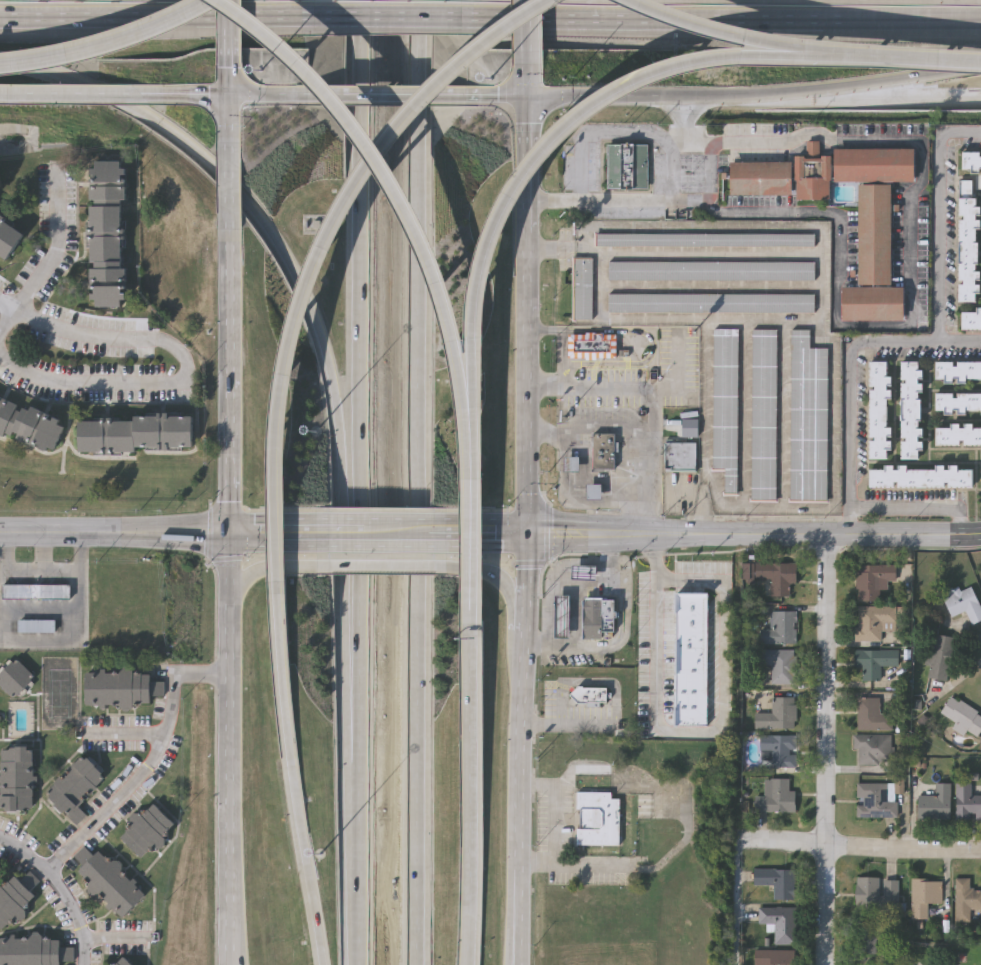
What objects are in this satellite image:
road: (156, 16)
road: (387, 16)
road: (720, 20)
road: (528, 26)
road: (235, 28)
road: (729, 32)
road: (108, 45)
road: (903, 62)
road: (876, 82)
road: (16, 93)
road: (876, 93)
road: (89, 94)
road: (716, 94)
road: (189, 95)
traffic signals: (233, 95)
road: (275, 95)
road: (393, 95)
road: (499, 95)
road: (595, 95)
traffic signals: (530, 96)
road: (232, 108)
road: (603, 133)
road: (544, 154)
building: (970, 164)
building: (871, 167)
building: (626, 168)
road: (669, 174)
building: (810, 176)
building: (758, 180)
road: (230, 186)
road: (403, 190)
road: (619, 201)
building: (108, 235)
building: (872, 236)
building: (7, 240)
building: (704, 242)
building: (966, 244)
road: (323, 246)
road: (46, 268)
road: (820, 270)
building: (711, 273)
road: (911, 278)
building: (582, 292)
building: (710, 305)
building: (870, 306)
building: (970, 323)
road: (960, 340)
road: (921, 341)
road: (564, 343)
road: (320, 346)
building: (592, 347)
road: (183, 363)
building: (957, 372)
road: (678, 373)
road: (644, 390)
building: (957, 405)
building: (724, 409)
building: (877, 413)
building: (909, 413)
building: (763, 417)
building: (807, 422)
building: (28, 426)
road: (590, 430)
building: (132, 432)
building: (957, 436)
building: (604, 452)
building: (678, 458)
building: (572, 465)
building: (920, 480)
road: (354, 482)
road: (415, 482)
building: (594, 493)
road: (578, 498)
road: (696, 499)
road: (777, 507)
road: (526, 508)
road: (920, 508)
road: (654, 517)
road: (162, 533)
traffic signals: (232, 533)
road: (379, 533)
road: (524, 533)
traffic signals: (526, 533)
road: (634, 535)
road: (677, 536)
road: (471, 537)
road: (841, 539)
road: (377, 570)
road: (263, 572)
road: (492, 573)
road: (558, 578)
building: (771, 578)
building: (873, 583)
road: (232, 587)
building: (35, 591)
building: (963, 606)
building: (595, 621)
building: (873, 624)
building: (36, 625)
building: (779, 631)
road: (627, 639)
building: (940, 660)
building: (688, 662)
building: (874, 664)
building: (780, 668)
building: (13, 677)
road: (597, 684)
building: (117, 688)
road: (563, 695)
building: (587, 697)
road: (563, 714)
road: (618, 714)
building: (776, 717)
building: (872, 718)
building: (963, 719)
road: (569, 725)
road: (699, 735)
road: (828, 752)
building: (777, 753)
building: (873, 753)
road: (151, 767)
road: (294, 774)
building: (15, 777)
building: (73, 787)
road: (471, 794)
building: (774, 800)
building: (875, 802)
building: (968, 805)
building: (936, 806)
building: (596, 821)
road: (691, 821)
road: (559, 823)
road: (626, 827)
building: (144, 830)
road: (863, 849)
building: (0, 869)
building: (105, 880)
building: (777, 884)
road: (59, 889)
building: (12, 896)
building: (875, 897)
road: (738, 899)
building: (924, 899)
building: (965, 903)
road: (512, 910)
building: (779, 925)
building: (867, 938)
building: (32, 951)
building: (773, 959)
building: (119, 961)

